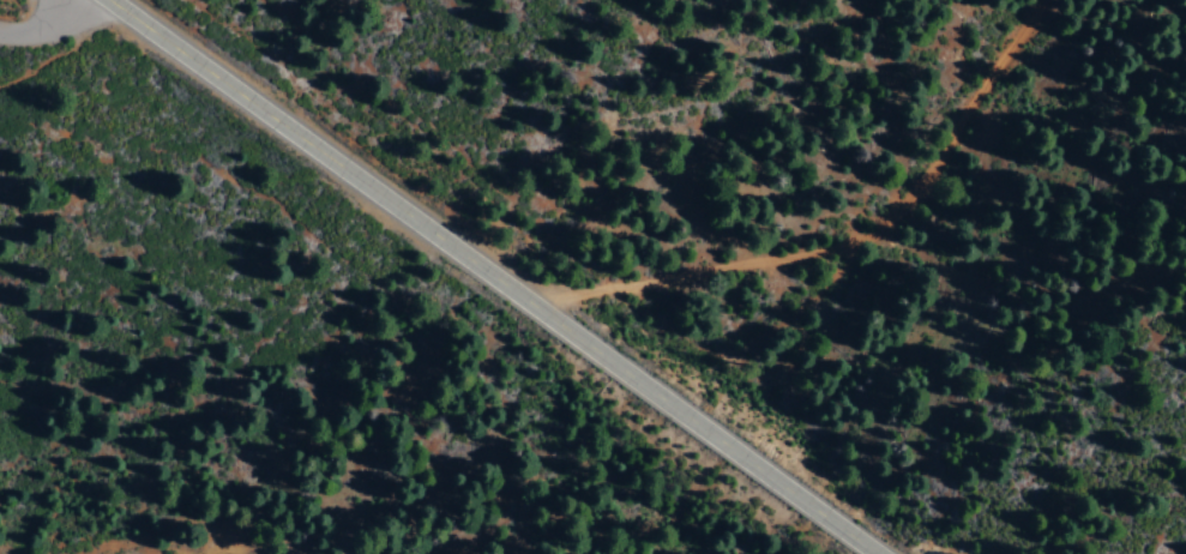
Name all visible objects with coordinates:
road: (36, 25)
road: (853, 211)
road: (486, 276)

